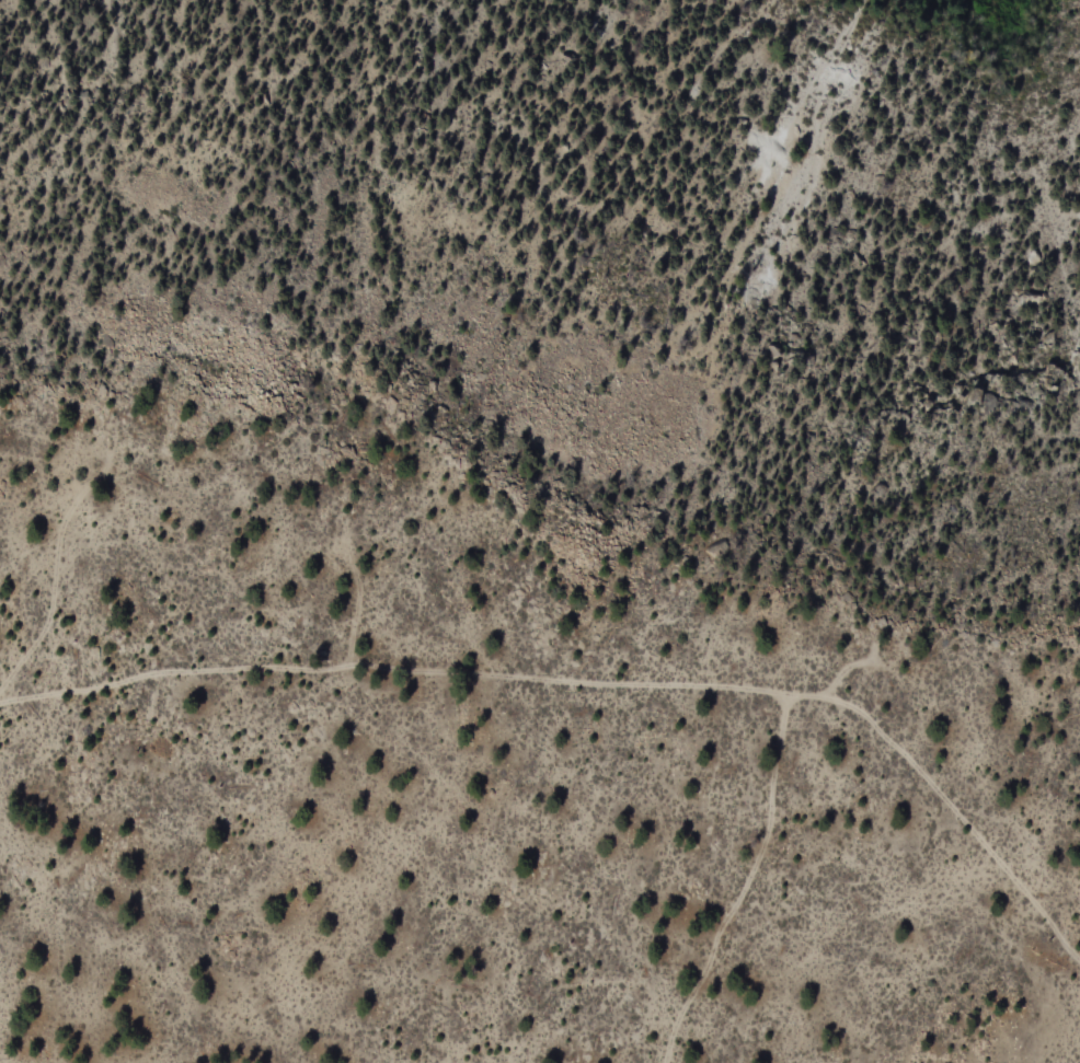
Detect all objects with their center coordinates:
road: (852, 667)
road: (596, 683)
road: (746, 885)

